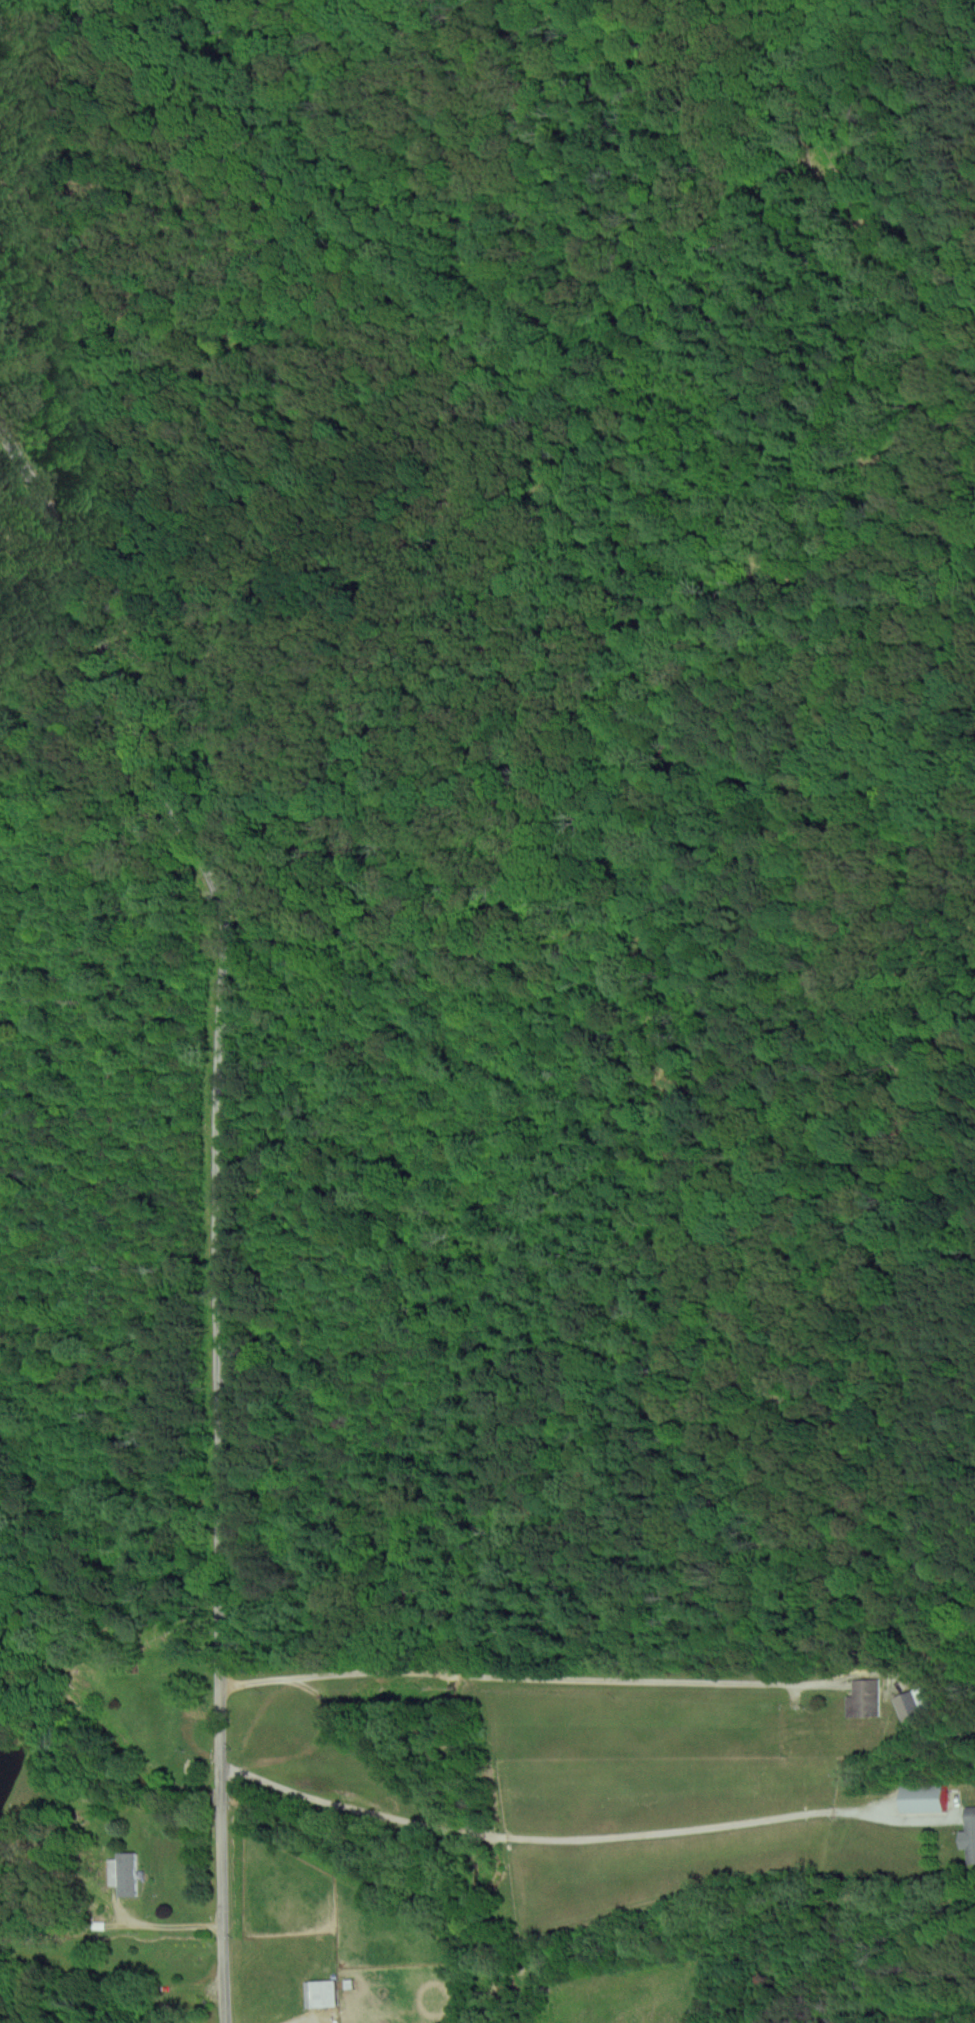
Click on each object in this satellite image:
road: (224, 1187)
road: (535, 1674)
building: (864, 1698)
building: (909, 1703)
road: (313, 1744)
building: (927, 1799)
building: (128, 1874)
building: (324, 1994)

